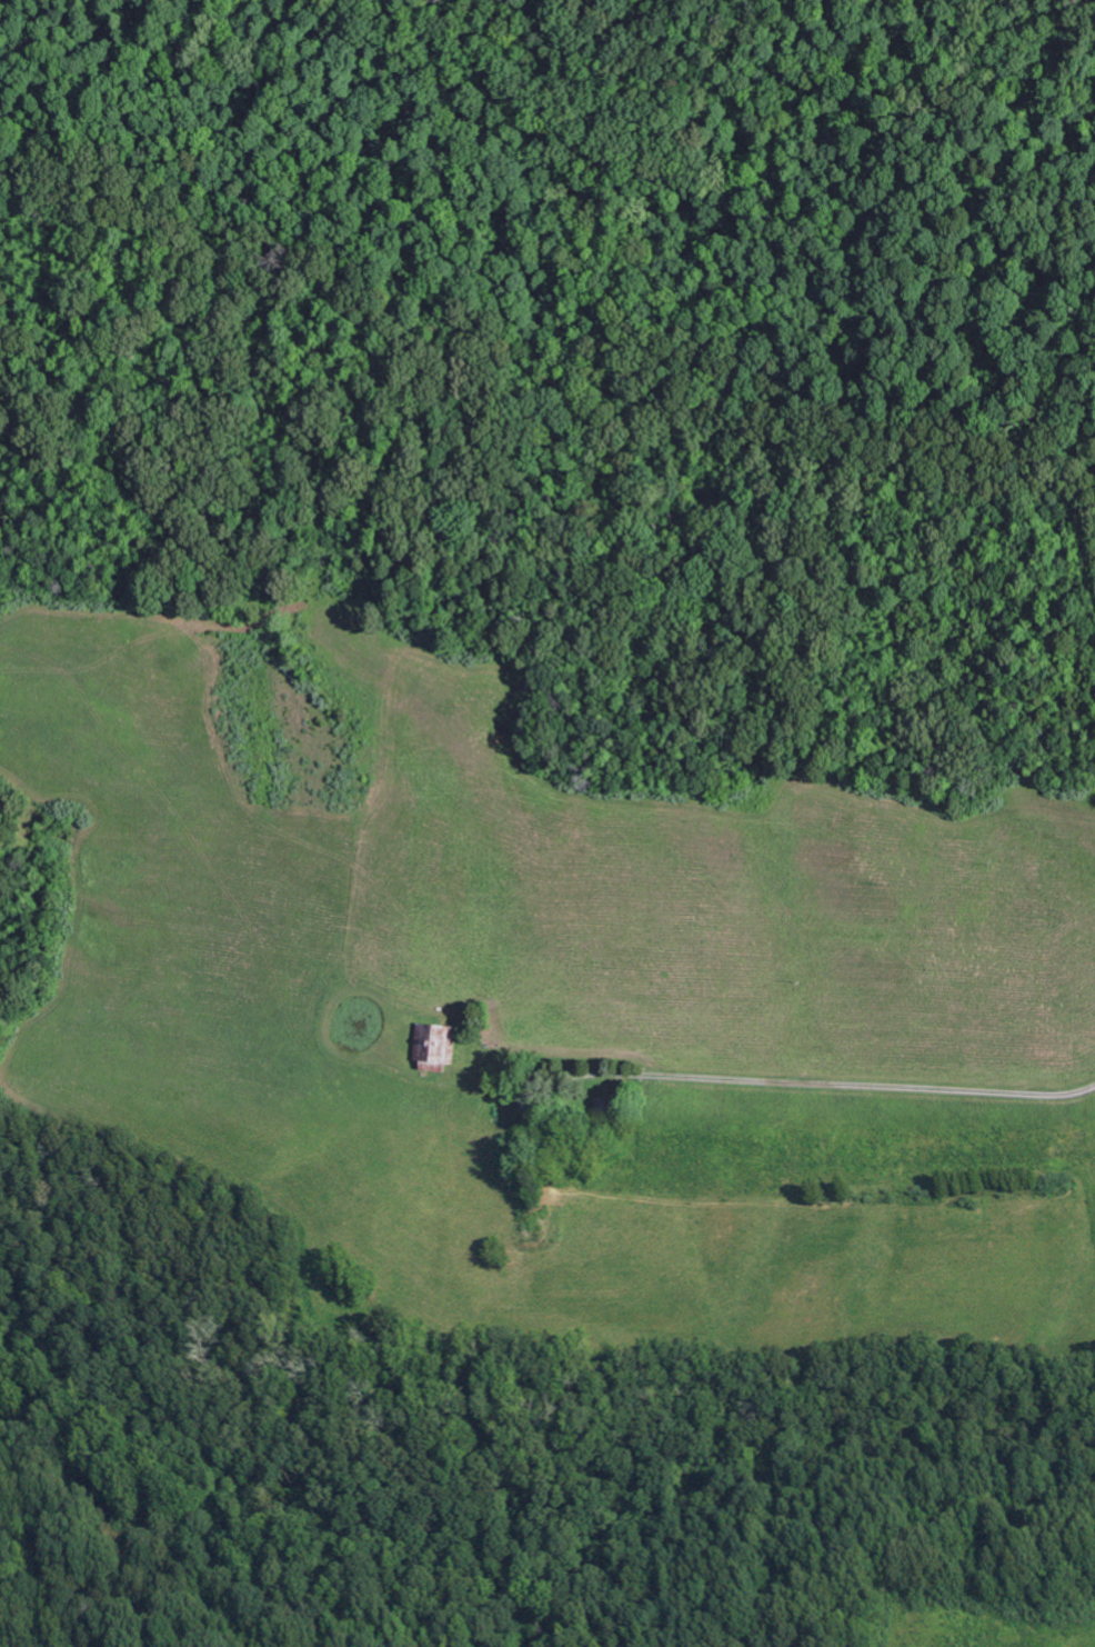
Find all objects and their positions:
building: (438, 1049)
road: (826, 1082)
building: (607, 1112)

